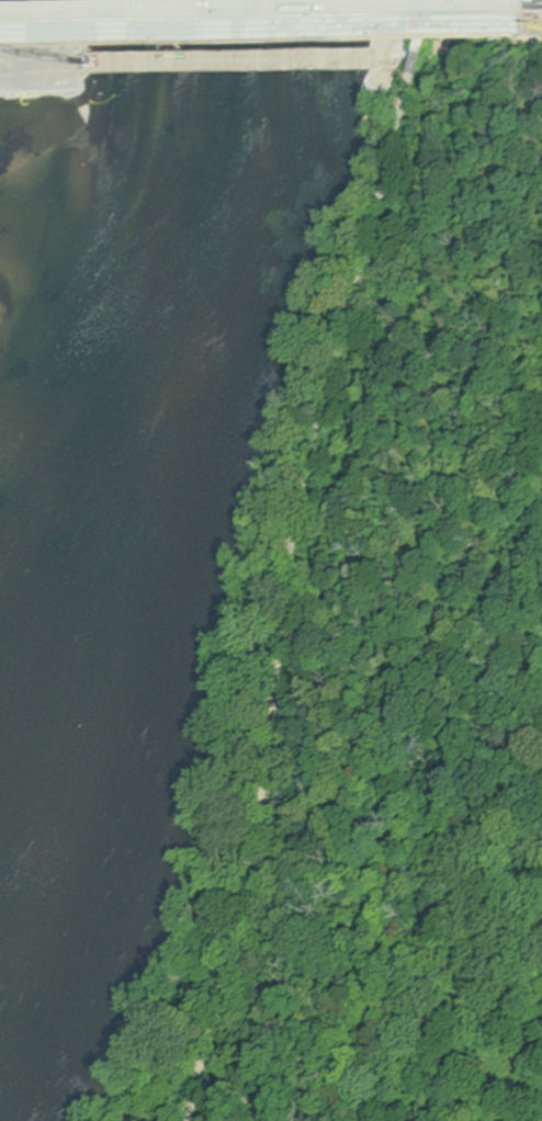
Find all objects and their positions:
road: (527, 25)
road: (256, 31)
river: (79, 381)
road: (292, 556)

